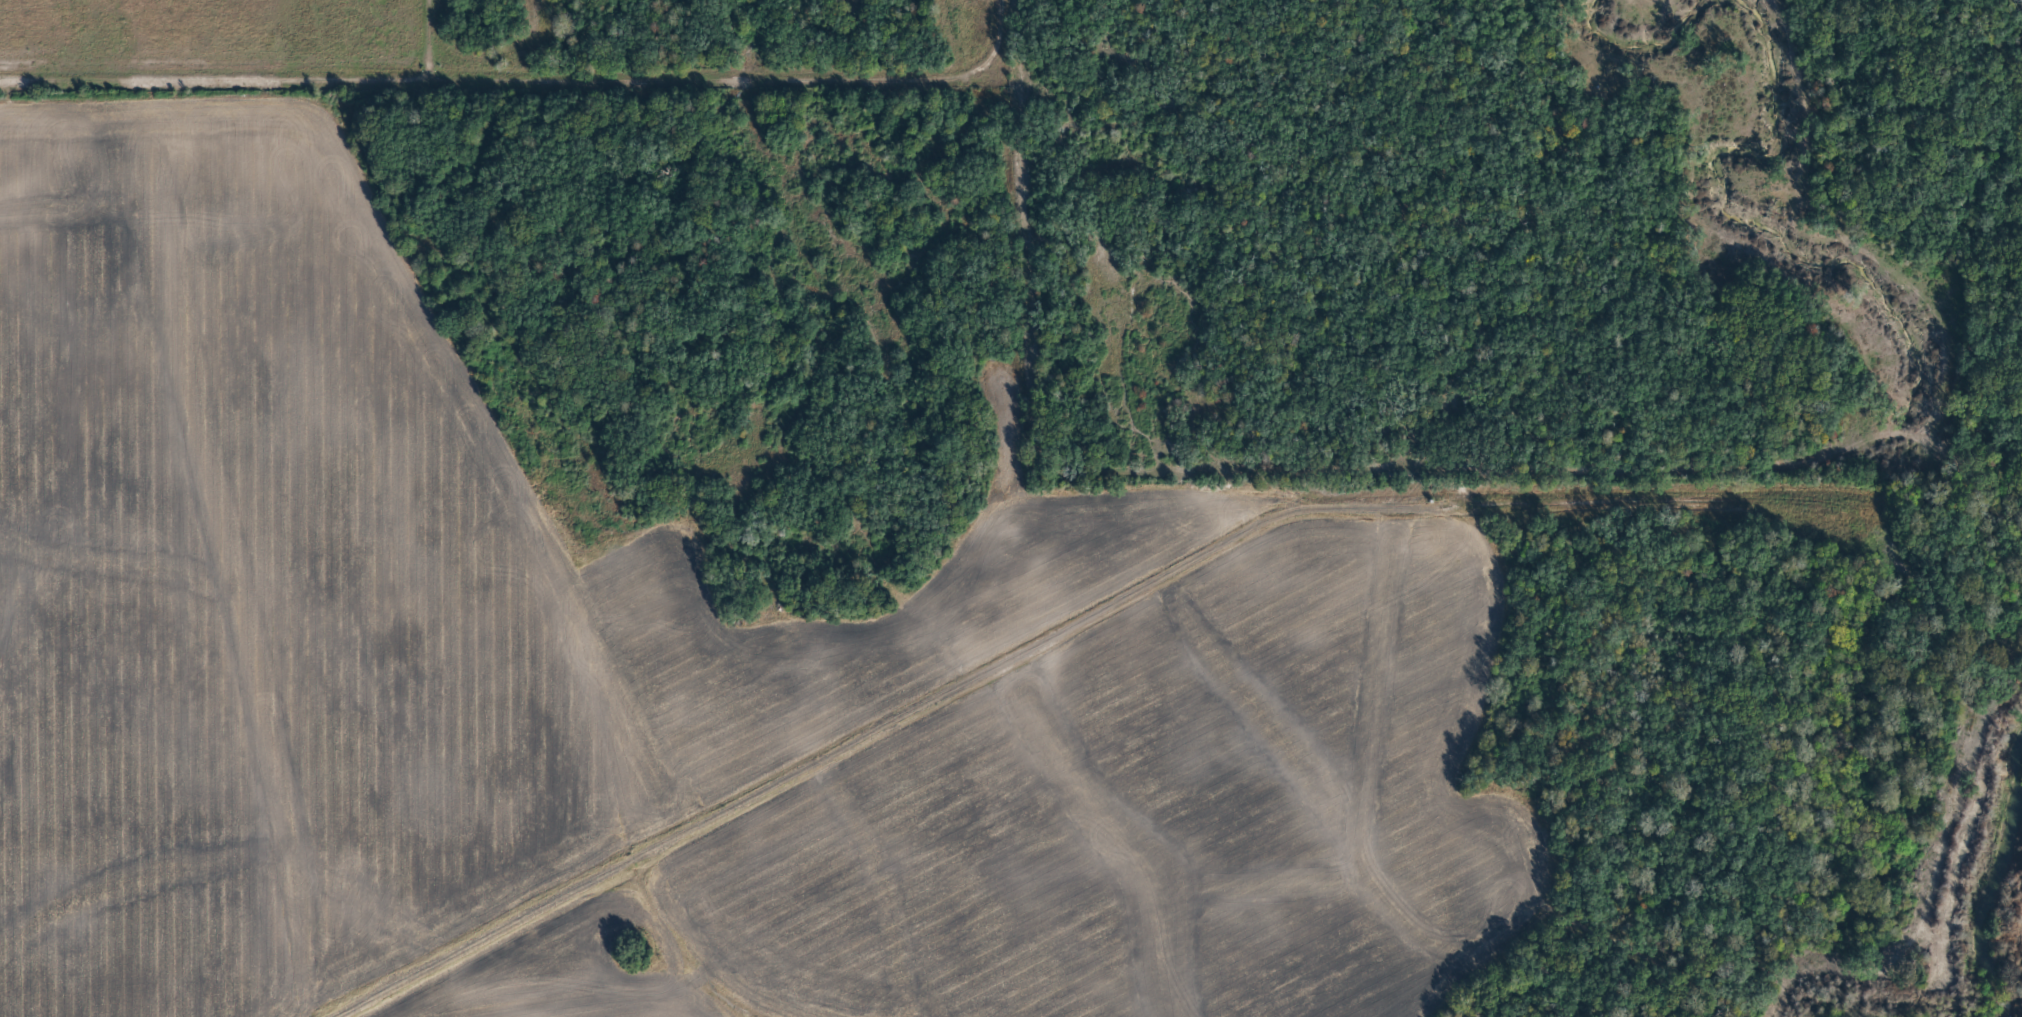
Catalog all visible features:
river: (1987, 887)
river: (1861, 1010)

